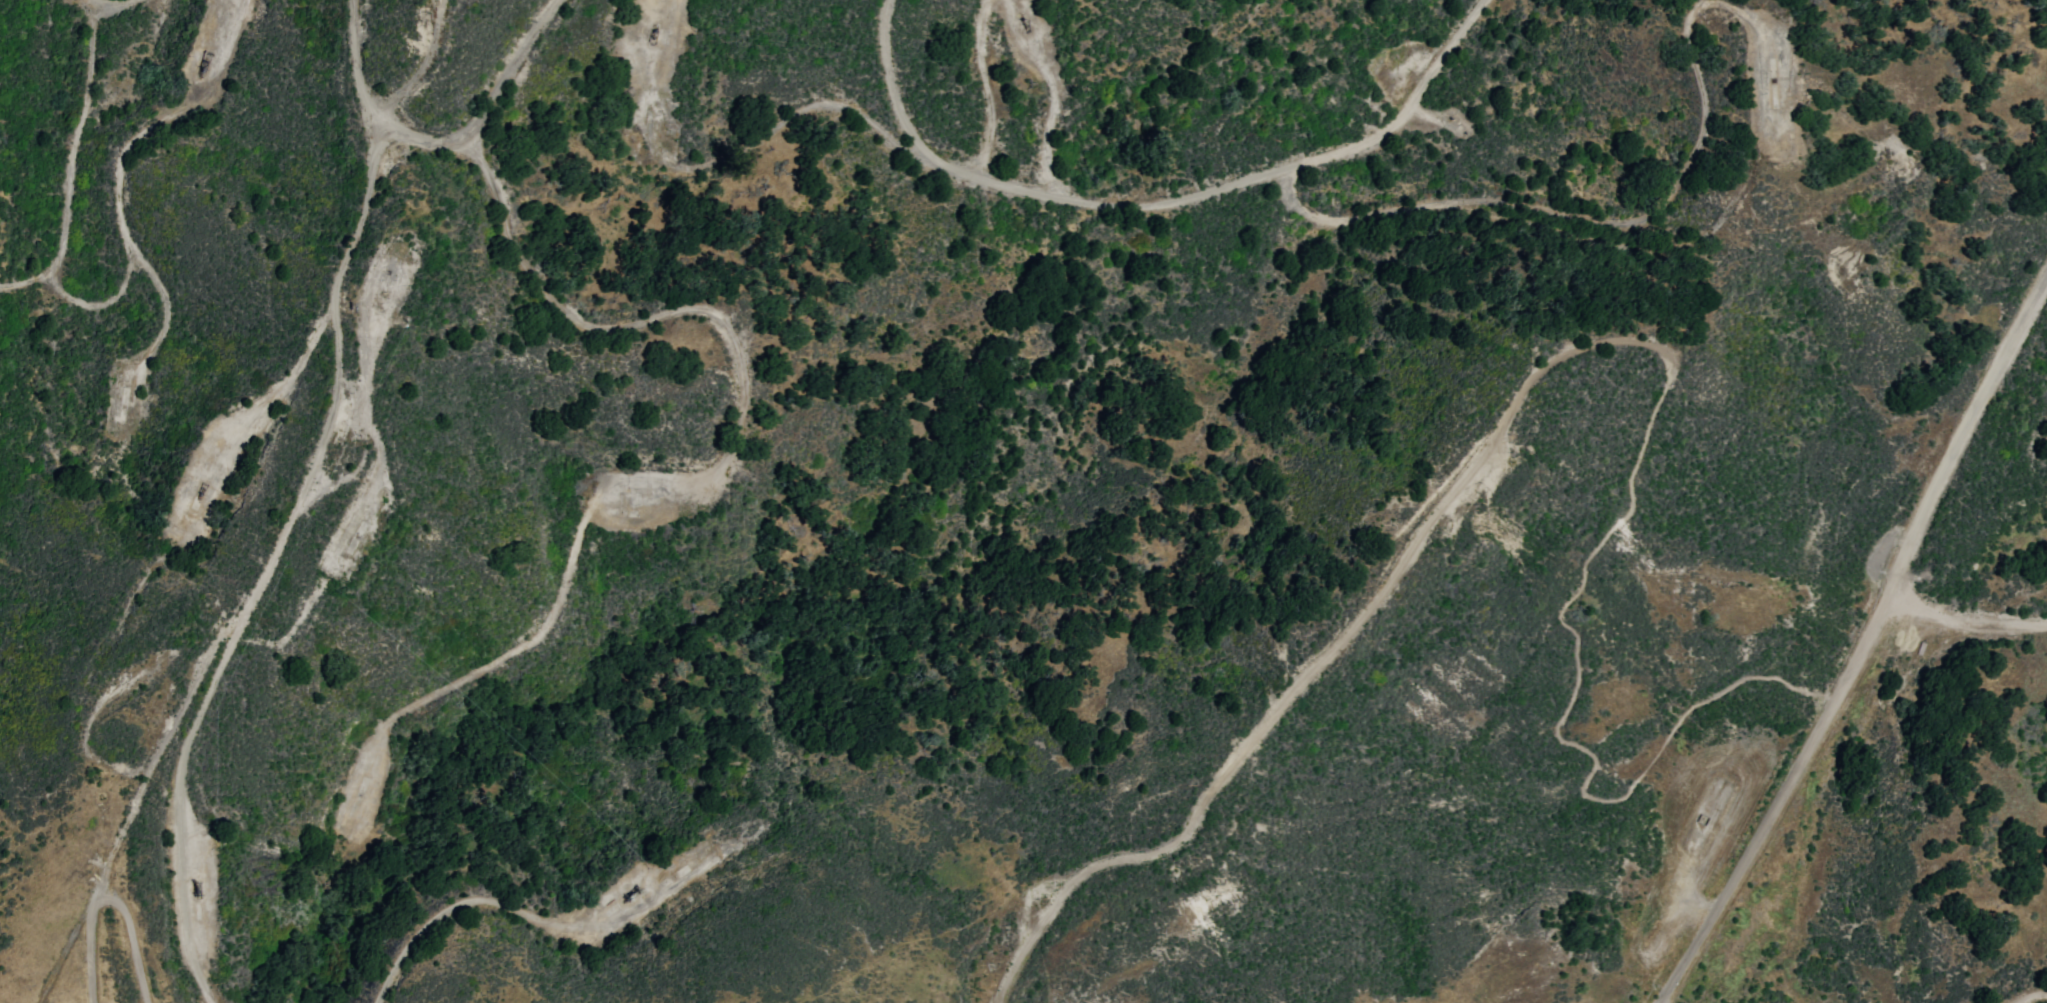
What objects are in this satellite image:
road: (120, 4)
road: (1745, 12)
road: (420, 69)
road: (993, 89)
road: (836, 104)
road: (482, 107)
road: (164, 121)
road: (77, 139)
road: (986, 180)
road: (364, 197)
road: (1659, 208)
road: (1348, 216)
road: (1682, 244)
road: (30, 283)
road: (112, 297)
road: (1595, 341)
road: (1027, 422)
road: (239, 458)
road: (116, 459)
road: (723, 459)
road: (1961, 621)
road: (274, 641)
road: (1851, 642)
road: (133, 803)
road: (180, 809)
road: (535, 919)
road: (2029, 995)

